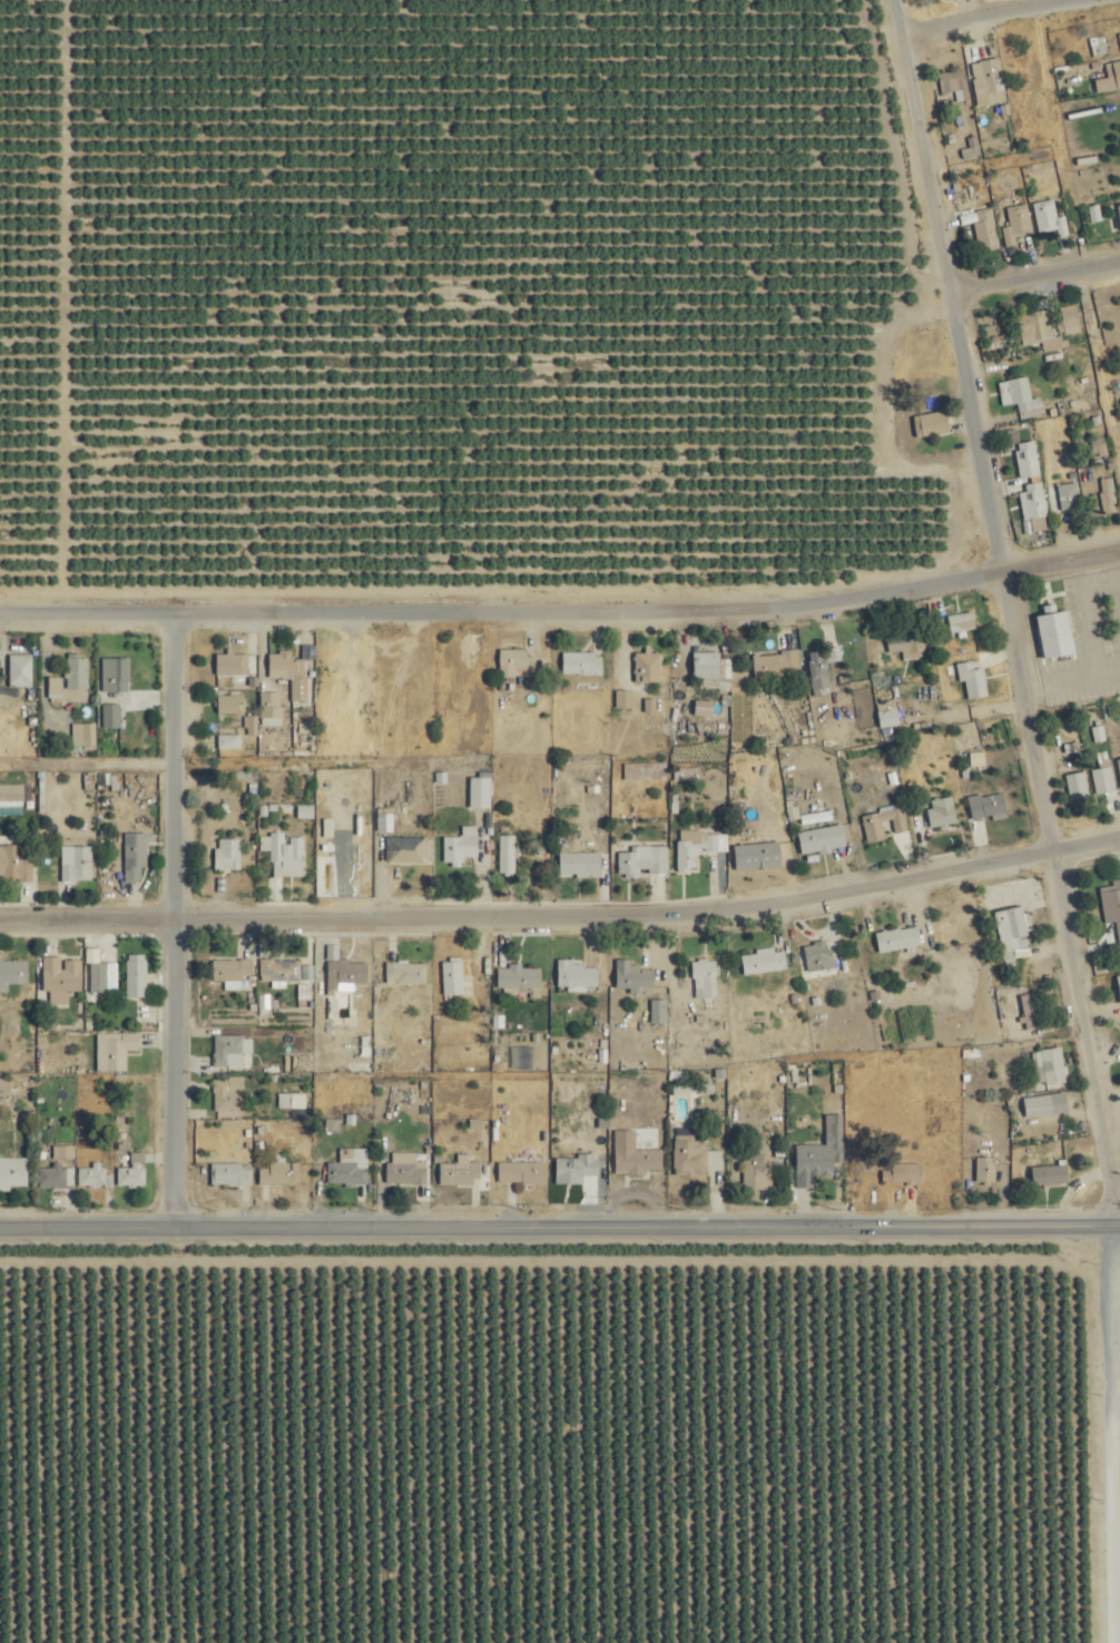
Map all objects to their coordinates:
road: (977, 17)
building: (1104, 47)
building: (1110, 79)
building: (991, 82)
building: (956, 85)
building: (1118, 213)
building: (1053, 217)
building: (1020, 225)
building: (989, 229)
road: (1039, 276)
building: (1072, 318)
building: (1039, 326)
building: (1025, 399)
building: (934, 424)
building: (1026, 459)
building: (1111, 495)
building: (1071, 498)
building: (1037, 501)
road: (562, 603)
road: (1006, 607)
building: (963, 621)
building: (1054, 634)
building: (907, 642)
building: (512, 659)
building: (584, 662)
building: (778, 663)
building: (227, 665)
building: (710, 666)
building: (824, 666)
building: (649, 667)
building: (399, 669)
building: (17, 670)
building: (286, 672)
building: (110, 673)
building: (974, 679)
building: (67, 682)
building: (627, 698)
building: (224, 704)
building: (265, 704)
building: (705, 707)
building: (890, 714)
building: (107, 716)
building: (246, 725)
building: (224, 741)
building: (1119, 761)
road: (97, 763)
building: (1104, 777)
building: (1079, 785)
building: (475, 790)
building: (9, 796)
building: (990, 807)
building: (943, 811)
building: (887, 814)
building: (816, 840)
building: (458, 845)
building: (701, 846)
building: (764, 847)
building: (401, 849)
building: (224, 854)
building: (279, 854)
building: (502, 855)
building: (130, 857)
building: (645, 860)
building: (13, 864)
building: (71, 864)
building: (579, 864)
building: (1111, 901)
road: (562, 907)
road: (169, 915)
building: (1019, 927)
building: (901, 938)
building: (822, 956)
building: (766, 962)
building: (228, 971)
building: (275, 971)
building: (11, 973)
building: (401, 973)
building: (131, 975)
building: (342, 975)
building: (576, 975)
building: (448, 976)
building: (514, 977)
building: (638, 977)
building: (57, 978)
building: (95, 978)
building: (708, 978)
building: (1119, 981)
building: (258, 1005)
building: (661, 1011)
building: (1011, 1017)
building: (110, 1050)
building: (224, 1051)
building: (1051, 1066)
building: (1, 1086)
building: (224, 1095)
building: (1042, 1105)
building: (639, 1154)
building: (697, 1155)
building: (814, 1163)
building: (344, 1168)
building: (401, 1169)
building: (986, 1170)
building: (11, 1172)
building: (455, 1172)
building: (757, 1172)
building: (226, 1173)
building: (275, 1173)
building: (520, 1173)
building: (903, 1173)
building: (127, 1174)
building: (1051, 1175)
building: (51, 1177)
building: (87, 1177)
road: (560, 1217)
road: (1112, 1429)

